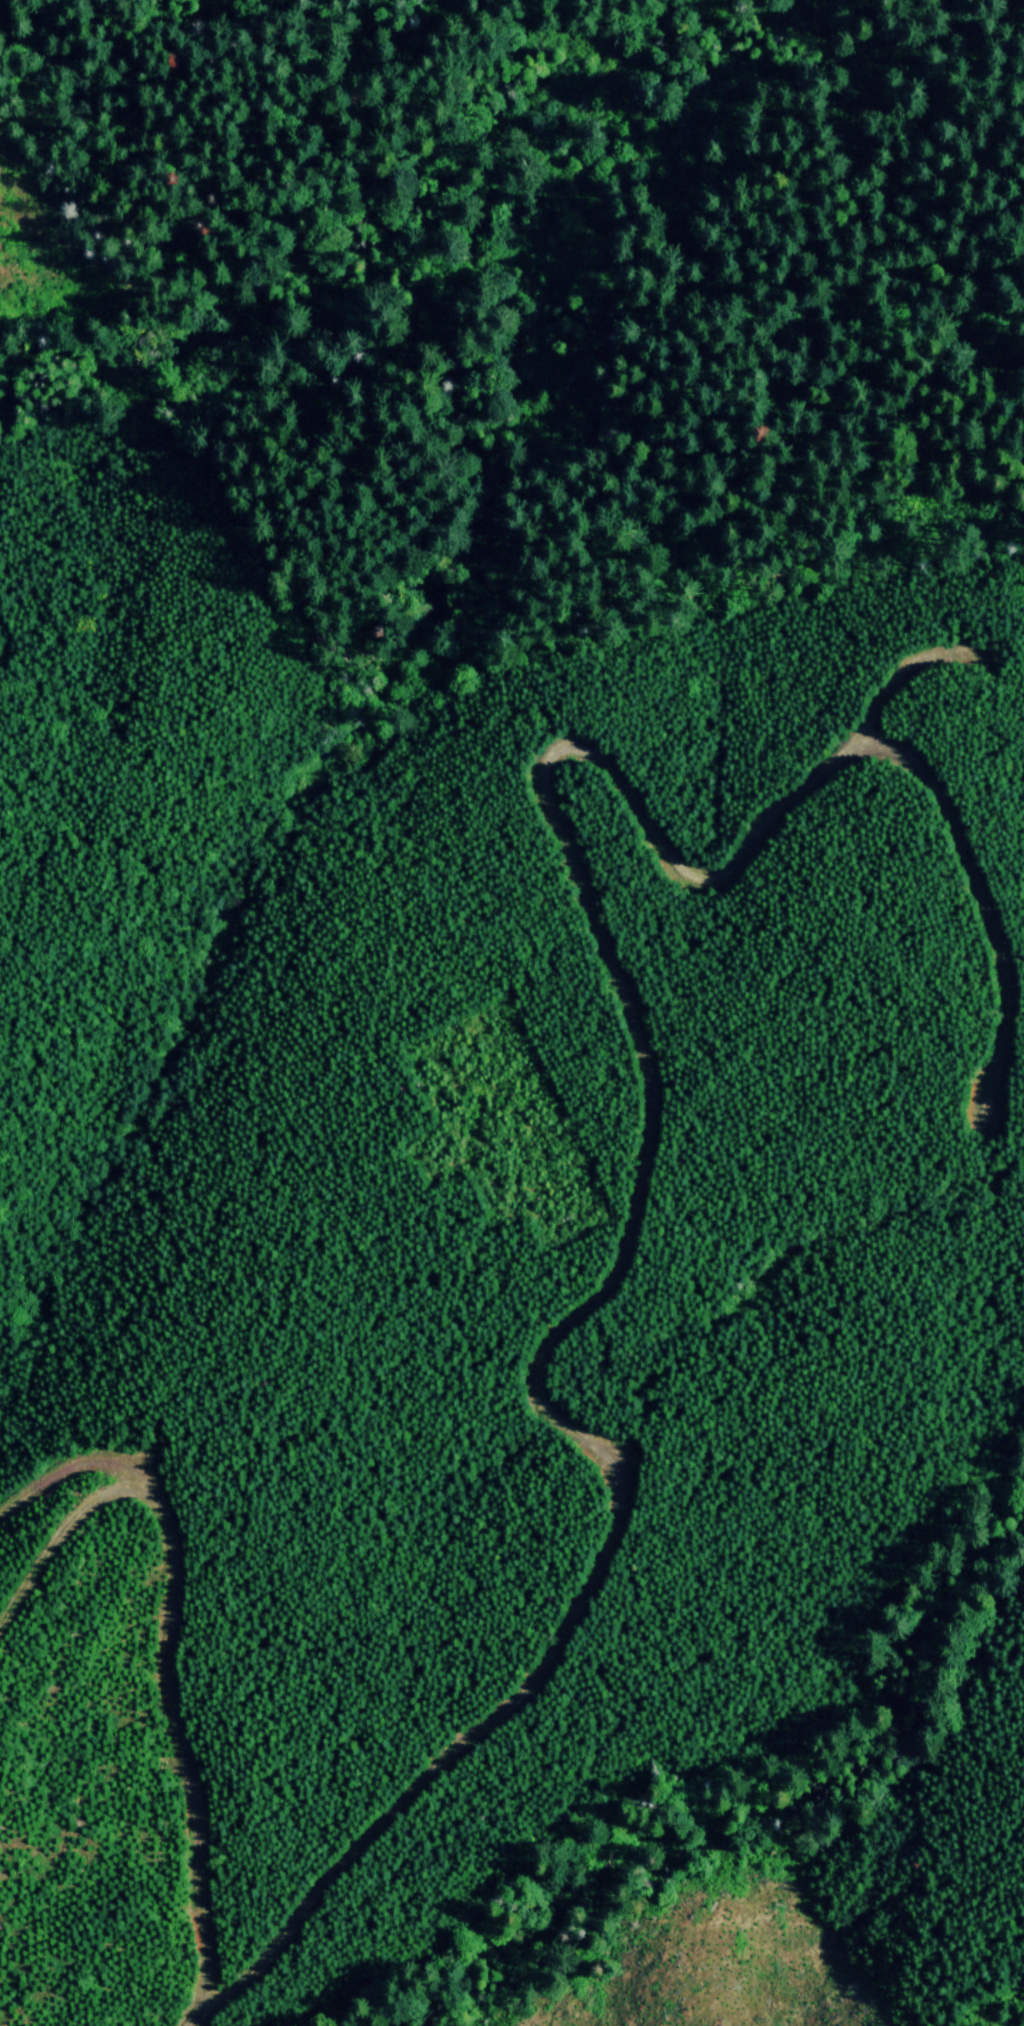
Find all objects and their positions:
road: (867, 66)
road: (362, 70)
road: (990, 511)
road: (906, 670)
road: (643, 1055)
road: (70, 1465)
road: (165, 1651)

